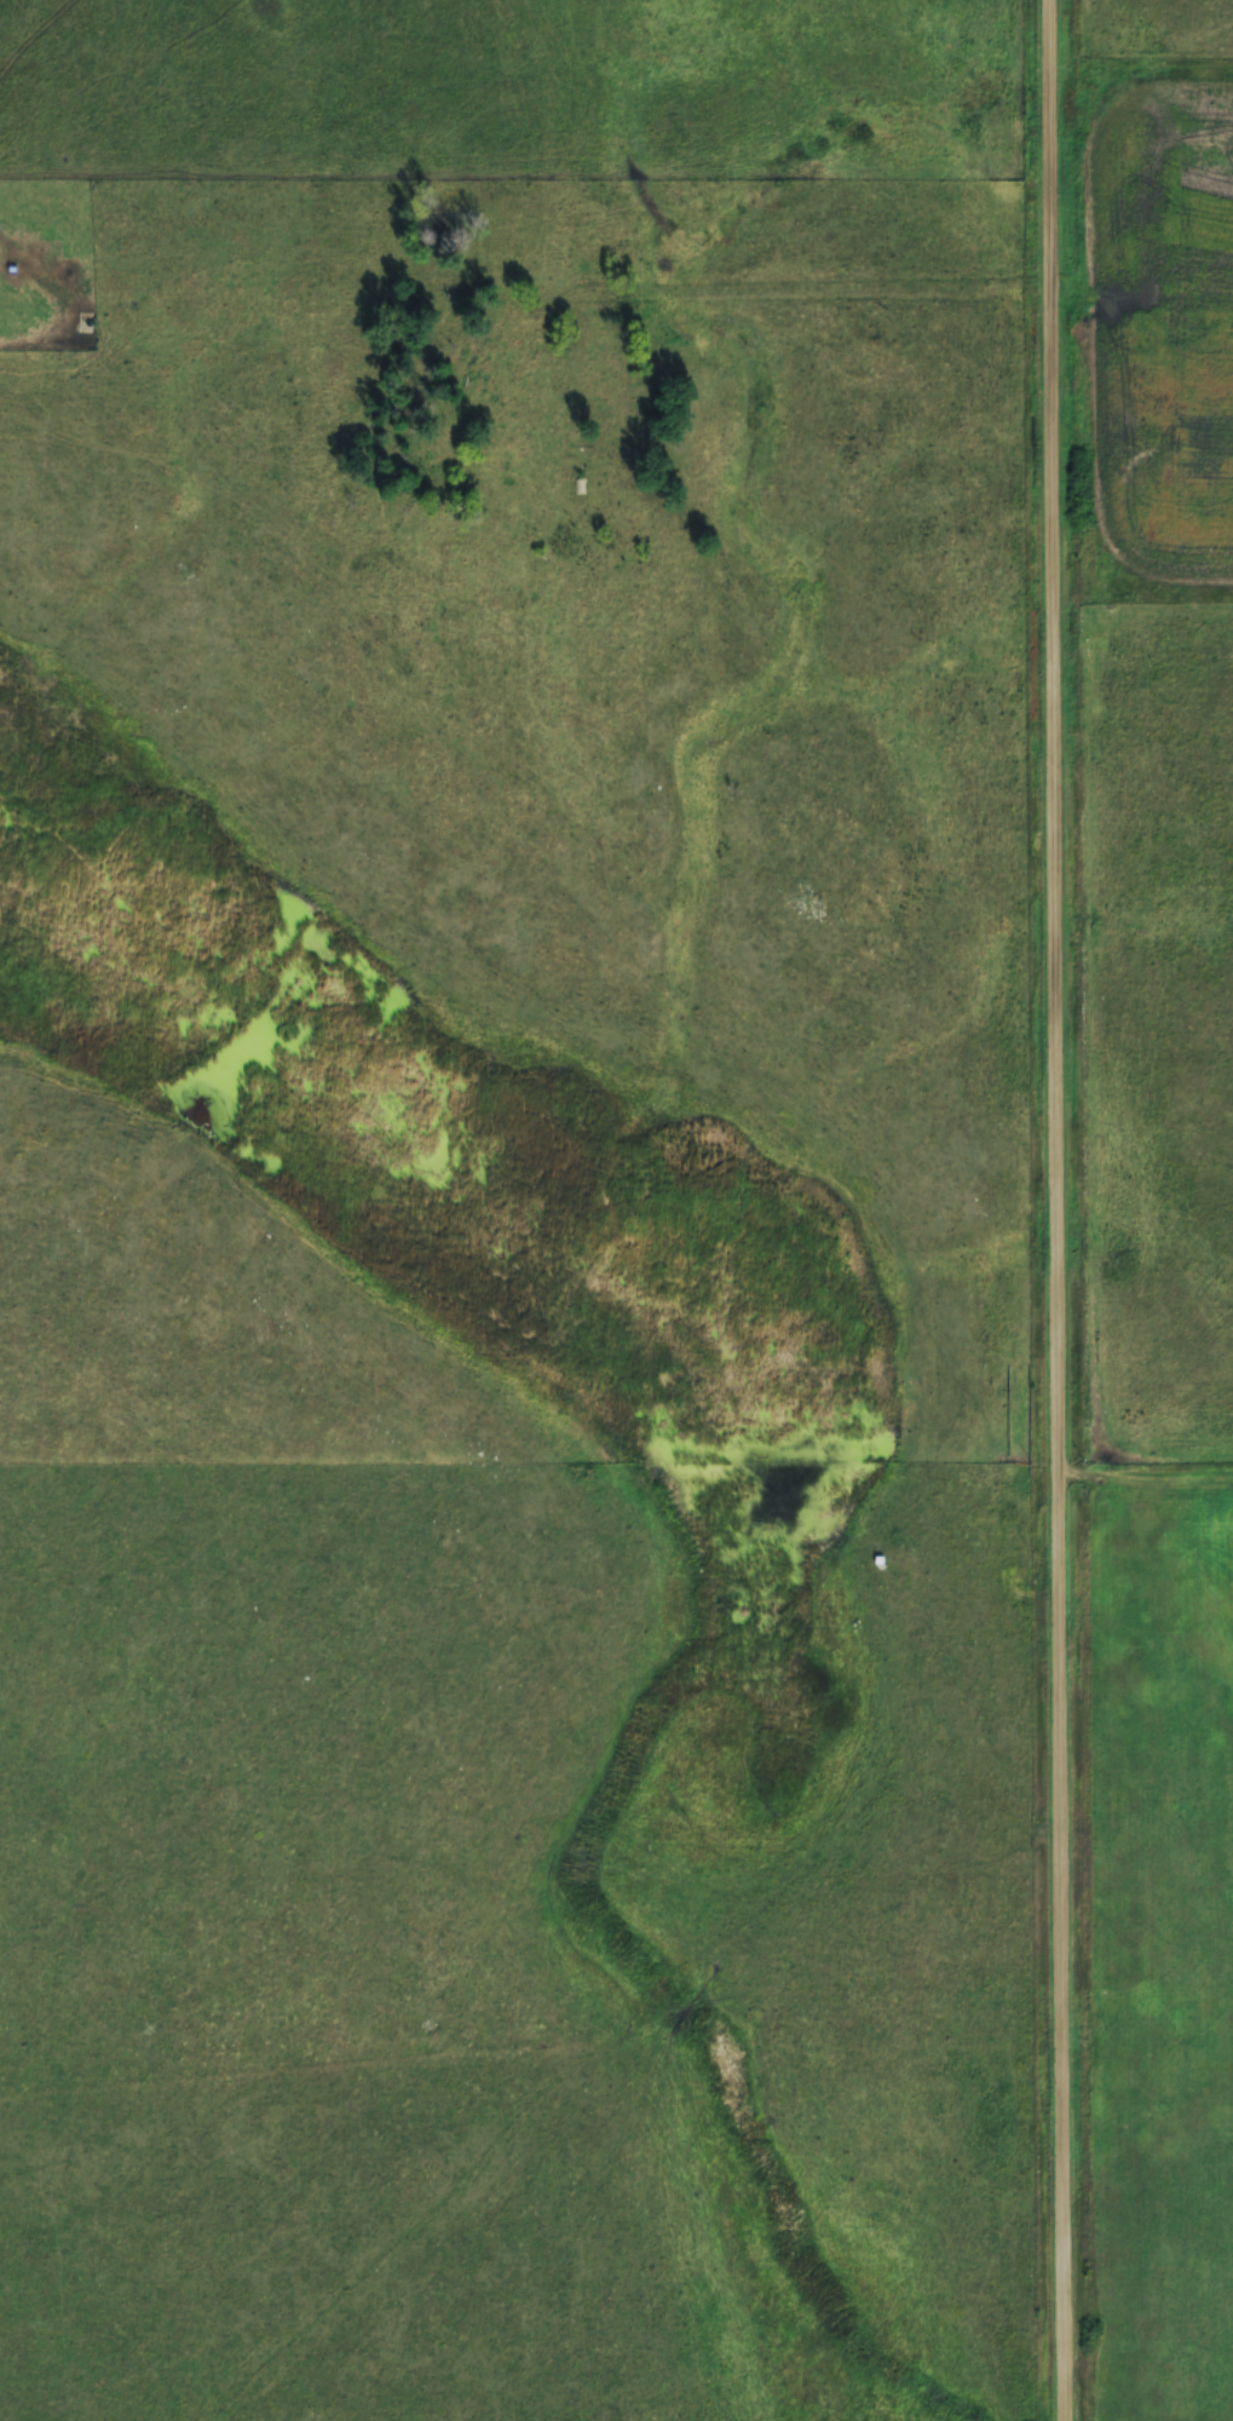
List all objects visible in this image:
road: (1056, 1210)

